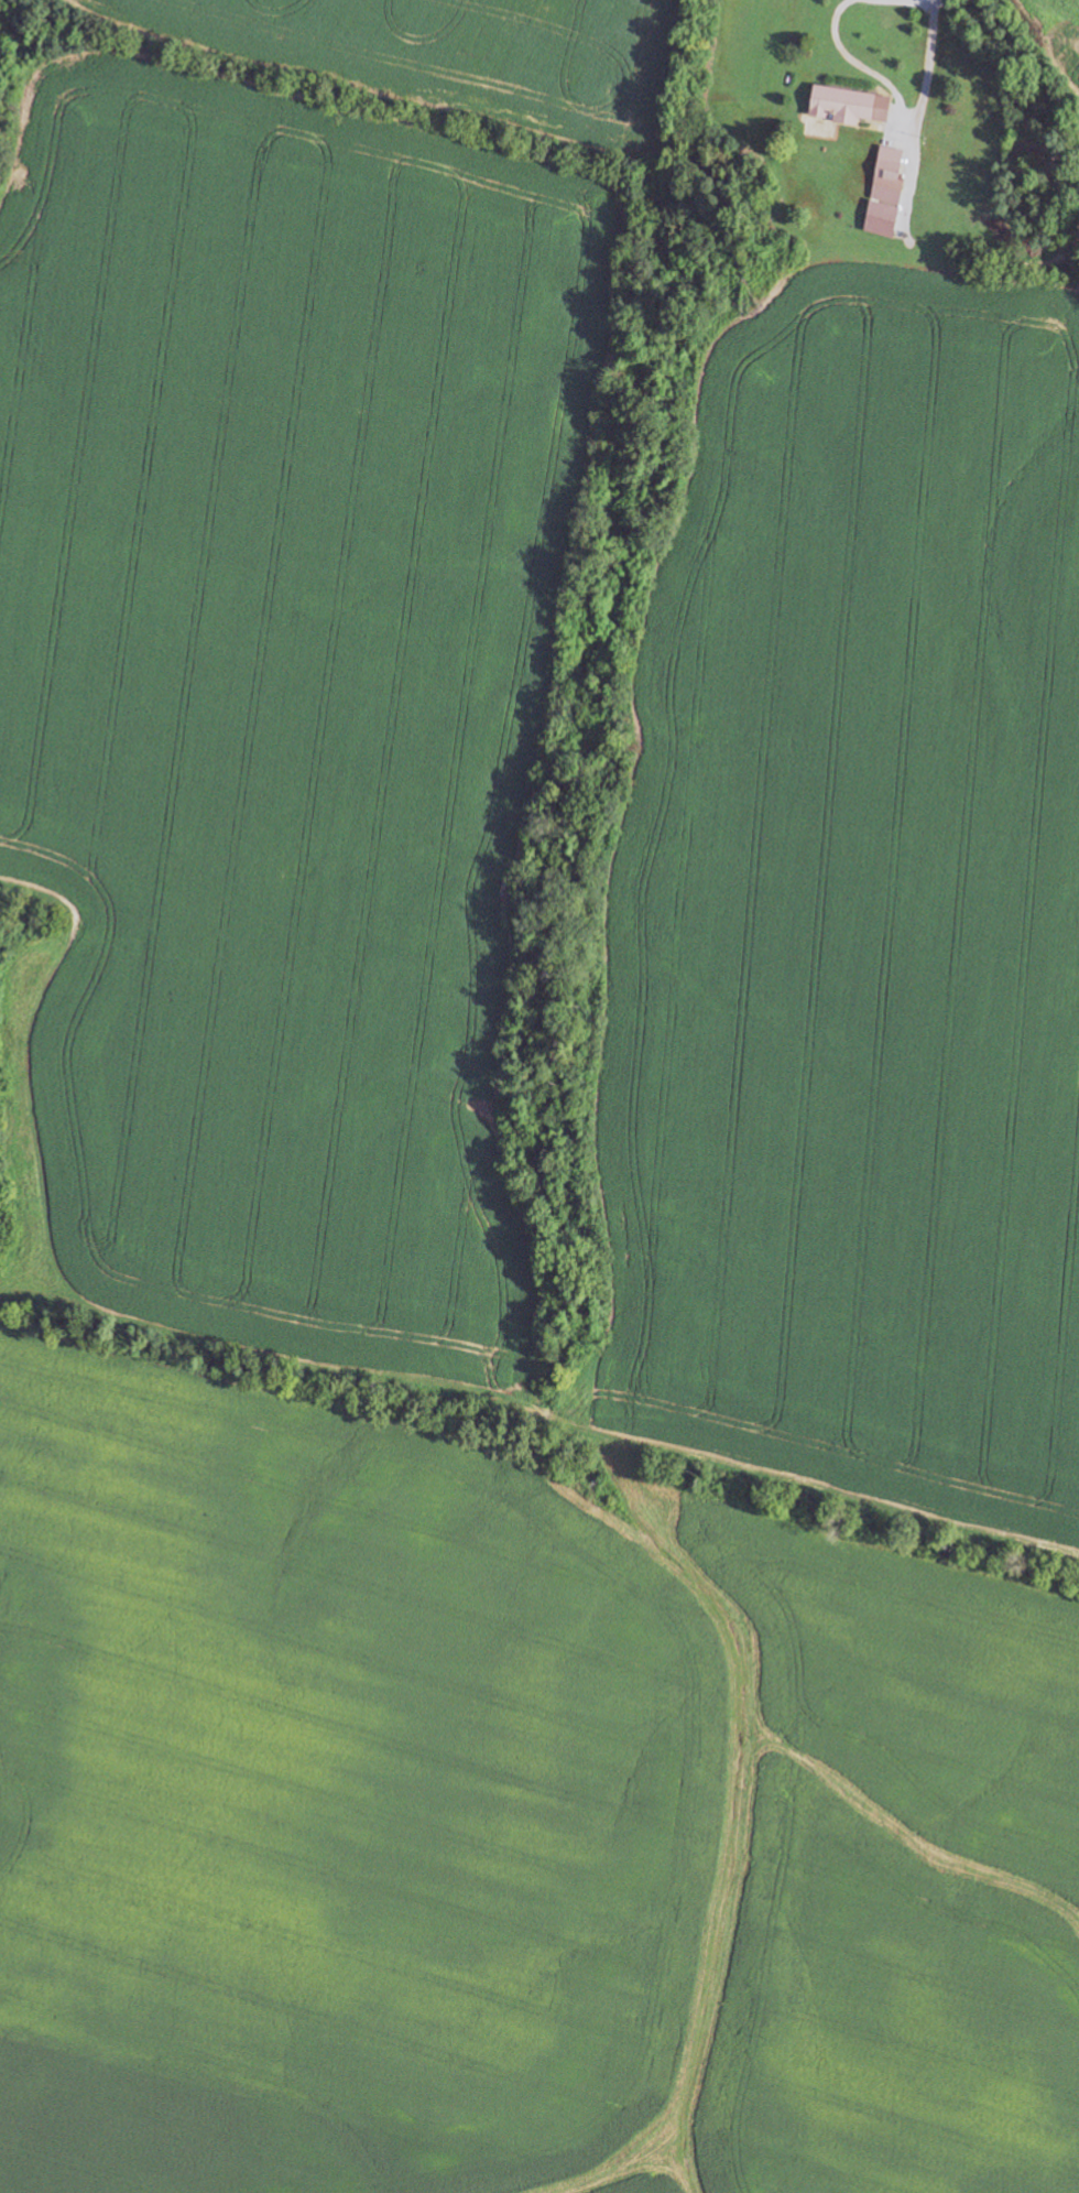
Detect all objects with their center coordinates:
road: (931, 61)
building: (852, 105)
building: (890, 181)

